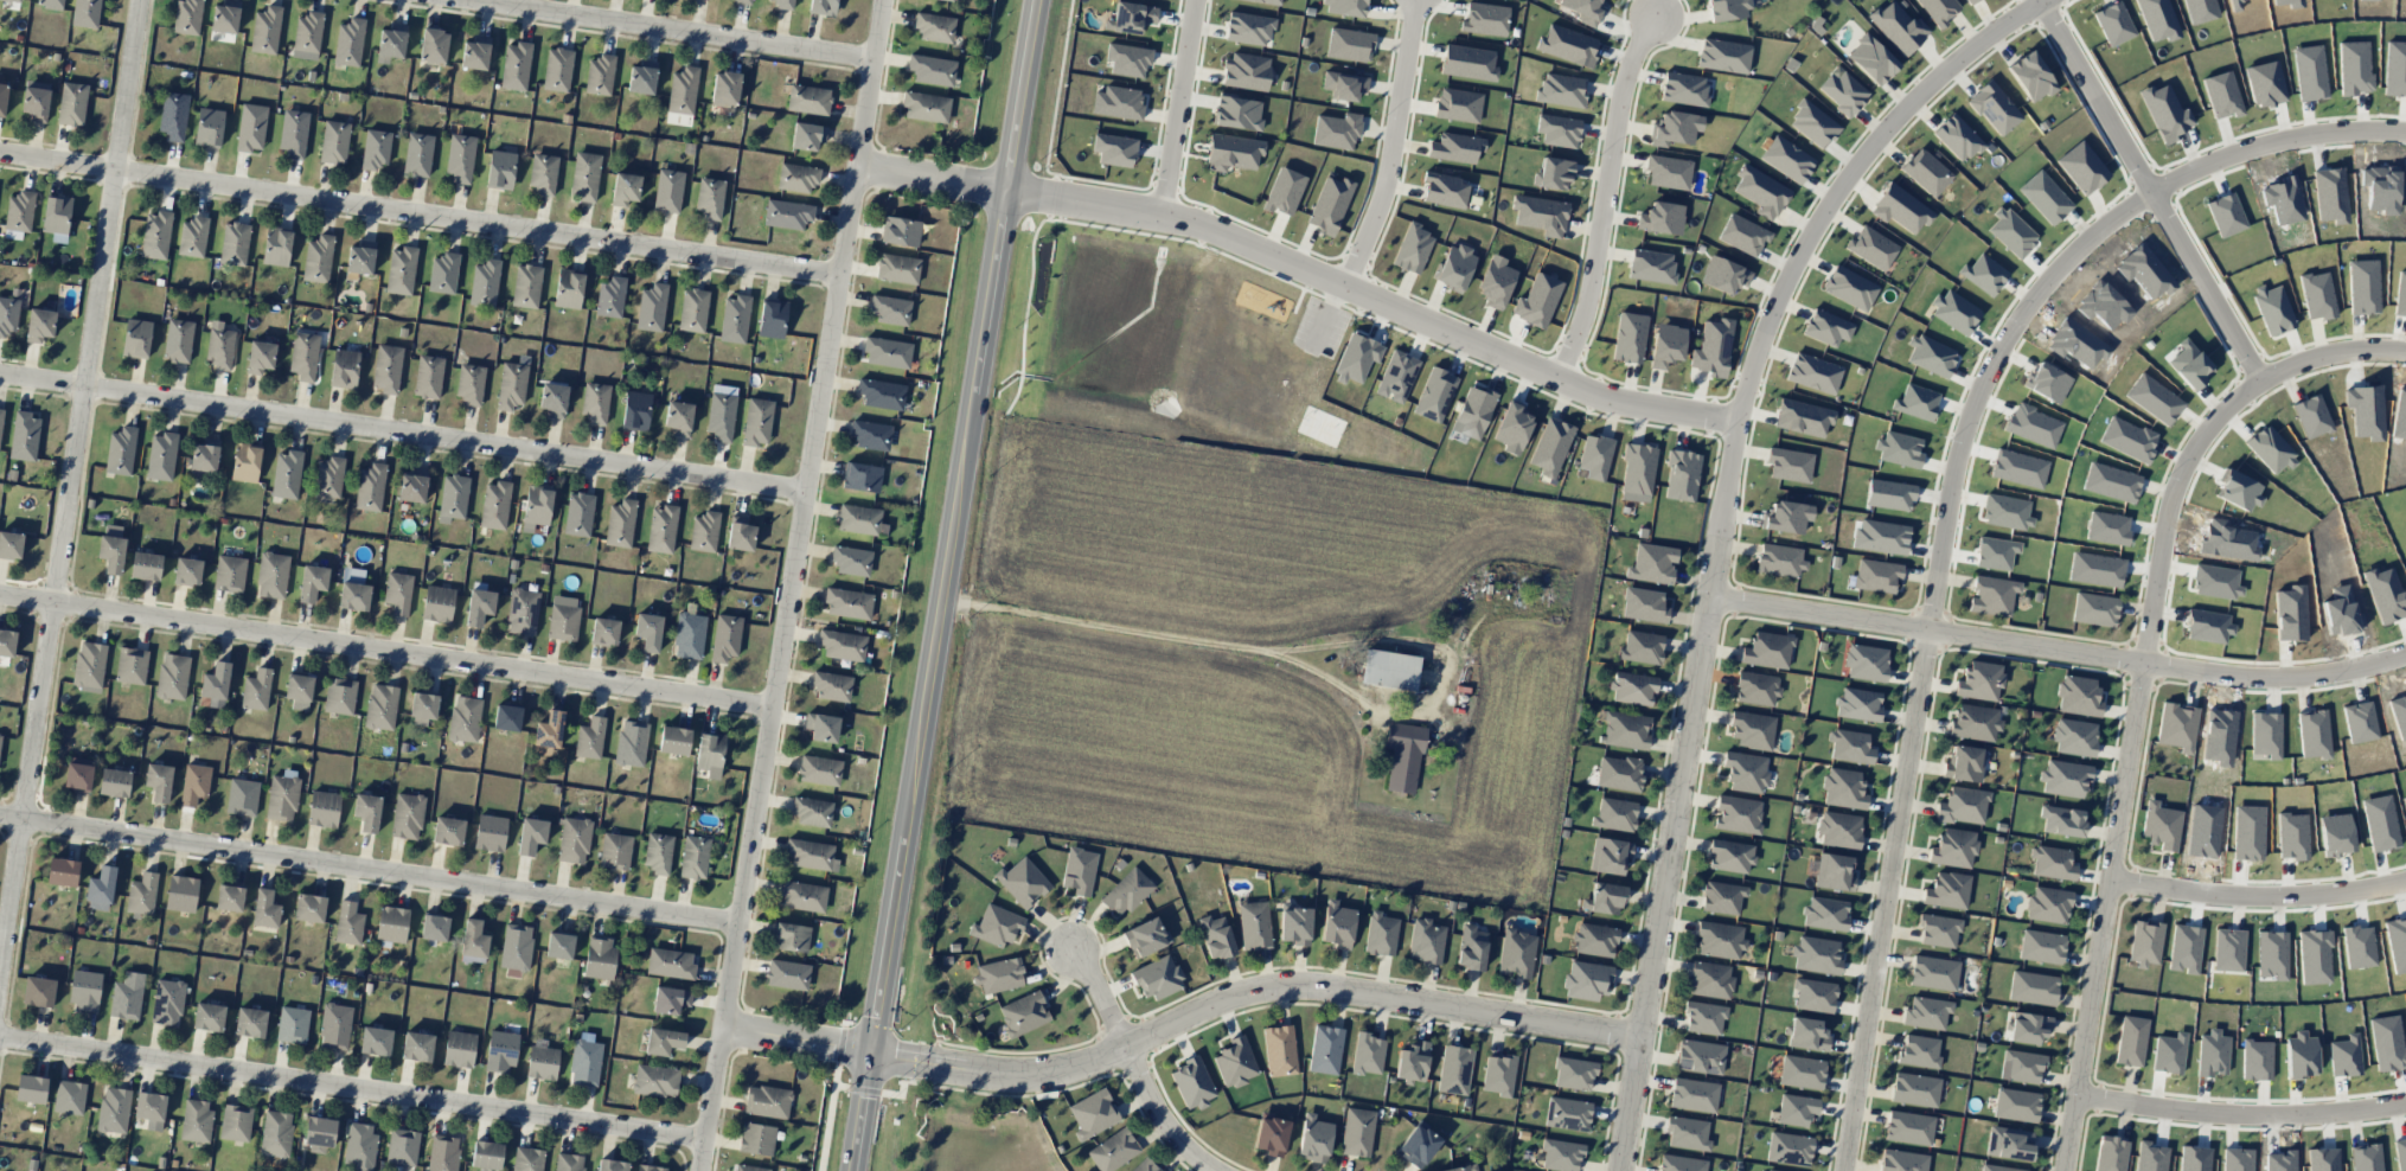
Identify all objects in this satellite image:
building: (13, 0)
building: (948, 0)
building: (743, 1)
building: (1267, 1)
building: (1970, 1)
building: (50, 4)
building: (783, 4)
building: (823, 7)
building: (1344, 7)
building: (1583, 9)
building: (1726, 9)
building: (1939, 9)
building: (85, 13)
building: (187, 17)
building: (225, 17)
building: (1130, 18)
building: (1484, 19)
building: (934, 27)
building: (1898, 27)
building: (1248, 28)
building: (265, 30)
road: (668, 30)
building: (307, 32)
building: (348, 41)
building: (391, 43)
building: (1349, 44)
building: (1567, 45)
building: (433, 46)
building: (475, 53)
building: (1723, 56)
building: (1127, 59)
building: (1870, 59)
building: (1467, 63)
building: (516, 65)
building: (557, 69)
building: (932, 70)
building: (1246, 71)
building: (600, 75)
building: (2030, 76)
building: (642, 77)
building: (1344, 84)
building: (724, 88)
building: (1683, 89)
building: (1561, 90)
building: (682, 92)
building: (1843, 92)
building: (2, 98)
building: (807, 100)
building: (36, 101)
building: (1118, 102)
building: (71, 104)
building: (1458, 104)
road: (1177, 105)
building: (924, 107)
building: (1994, 108)
building: (1237, 111)
building: (173, 115)
building: (1813, 123)
building: (209, 127)
building: (251, 127)
building: (1675, 128)
building: (1336, 130)
building: (1557, 130)
building: (293, 133)
building: (806, 135)
building: (1957, 137)
building: (334, 142)
road: (1391, 145)
building: (1455, 147)
building: (375, 148)
building: (1114, 149)
building: (1233, 152)
building: (417, 154)
building: (460, 158)
building: (1786, 159)
building: (500, 169)
building: (1668, 172)
building: (1925, 172)
building: (1553, 173)
building: (543, 174)
road: (932, 174)
building: (584, 175)
building: (796, 177)
building: (625, 188)
building: (1444, 190)
building: (667, 191)
building: (1284, 191)
building: (1760, 191)
road: (2156, 191)
road: (1602, 194)
building: (710, 198)
building: (1330, 205)
building: (1900, 209)
building: (56, 213)
building: (787, 213)
building: (19, 215)
building: (1540, 215)
road: (421, 217)
building: (1660, 218)
building: (900, 231)
building: (155, 235)
building: (1742, 235)
building: (192, 237)
building: (233, 243)
building: (276, 247)
building: (1871, 248)
building: (1413, 249)
building: (318, 260)
building: (1651, 265)
building: (897, 268)
building: (1454, 268)
building: (401, 270)
building: (443, 273)
building: (1723, 275)
building: (1495, 282)
building: (484, 283)
building: (526, 286)
building: (568, 288)
building: (1849, 288)
road: (1372, 294)
building: (610, 297)
building: (1537, 300)
building: (651, 307)
building: (692, 309)
building: (890, 309)
building: (8, 315)
building: (772, 318)
building: (734, 319)
building: (39, 325)
building: (1826, 327)
building: (136, 338)
building: (1628, 338)
building: (178, 340)
building: (219, 345)
building: (1666, 345)
building: (1713, 348)
building: (887, 352)
building: (303, 356)
building: (260, 357)
building: (1357, 358)
building: (344, 369)
building: (386, 369)
building: (1813, 373)
building: (1397, 375)
building: (428, 377)
building: (471, 384)
building: (511, 385)
building: (881, 393)
building: (1434, 395)
building: (552, 399)
building: (595, 402)
building: (635, 410)
building: (721, 412)
building: (1473, 412)
building: (678, 417)
building: (1802, 417)
building: (1, 418)
building: (757, 421)
building: (1511, 428)
building: (870, 435)
building: (24, 436)
road: (403, 436)
building: (1550, 447)
building: (120, 450)
building: (205, 455)
building: (161, 456)
building: (1594, 456)
building: (245, 462)
building: (1788, 465)
building: (1637, 468)
building: (286, 474)
building: (1682, 475)
building: (862, 476)
building: (328, 478)
building: (414, 486)
building: (370, 487)
building: (453, 498)
road: (69, 503)
building: (494, 505)
building: (537, 505)
building: (578, 514)
building: (1786, 517)
road: (1947, 517)
building: (858, 519)
building: (620, 523)
road: (1720, 527)
building: (661, 529)
building: (704, 531)
building: (740, 533)
building: (11, 545)
building: (111, 549)
building: (1779, 559)
building: (851, 561)
building: (1652, 563)
building: (146, 565)
building: (187, 571)
building: (229, 574)
building: (271, 575)
building: (1876, 575)
building: (312, 582)
road: (941, 584)
road: (794, 585)
building: (398, 593)
building: (1991, 595)
building: (353, 596)
building: (437, 603)
building: (847, 603)
building: (1643, 604)
building: (479, 606)
building: (2094, 609)
building: (521, 612)
building: (563, 619)
building: (648, 631)
building: (603, 632)
building: (689, 635)
building: (725, 638)
road: (1152, 639)
building: (7, 642)
building: (842, 645)
building: (1642, 647)
building: (1767, 650)
road: (2058, 651)
road: (386, 653)
building: (1866, 663)
building: (130, 665)
building: (89, 666)
building: (1390, 670)
building: (172, 676)
building: (1979, 680)
building: (215, 685)
building: (297, 686)
building: (831, 686)
building: (1632, 687)
building: (1755, 687)
road: (2146, 689)
building: (256, 690)
building: (339, 696)
building: (2078, 696)
building: (1857, 704)
building: (380, 706)
building: (422, 708)
building: (506, 717)
building: (463, 718)
building: (1975, 722)
building: (821, 727)
building: (2176, 727)
building: (1624, 729)
building: (1751, 729)
building: (548, 732)
building: (0, 734)
building: (2074, 736)
building: (589, 738)
building: (673, 740)
building: (631, 743)
building: (1849, 746)
building: (709, 754)
building: (1403, 756)
building: (1963, 763)
building: (819, 770)
building: (1745, 772)
building: (1618, 773)
building: (78, 774)
building: (2063, 779)
building: (159, 781)
building: (114, 782)
building: (194, 783)
building: (1843, 788)
building: (282, 795)
building: (242, 796)
building: (1962, 806)
building: (324, 808)
building: (812, 811)
building: (366, 812)
building: (1614, 814)
building: (1736, 814)
building: (407, 815)
building: (2061, 820)
building: (2159, 825)
building: (1839, 830)
building: (448, 831)
building: (489, 833)
building: (531, 834)
building: (574, 840)
building: (1953, 847)
building: (614, 851)
building: (658, 853)
building: (811, 855)
building: (1610, 856)
building: (1730, 856)
building: (693, 857)
building: (2052, 863)
building: (1079, 870)
building: (1835, 871)
building: (62, 872)
road: (370, 872)
building: (1022, 882)
building: (101, 889)
building: (1946, 890)
building: (1126, 891)
building: (141, 894)
building: (181, 894)
building: (802, 896)
road: (2261, 896)
building: (229, 897)
building: (1721, 897)
building: (1605, 898)
building: (2048, 906)
building: (309, 908)
building: (264, 909)
building: (1824, 914)
building: (348, 923)
building: (1254, 924)
building: (1294, 924)
building: (1337, 924)
building: (391, 926)
building: (996, 926)
building: (434, 928)
building: (1938, 930)
building: (1380, 934)
building: (1145, 936)
building: (1215, 936)
building: (791, 938)
building: (1594, 939)
building: (1720, 940)
building: (1425, 941)
building: (473, 942)
building: (2144, 942)
building: (559, 945)
building: (2041, 946)
building: (516, 947)
building: (1470, 947)
building: (1516, 953)
building: (1816, 954)
building: (599, 958)
building: (670, 964)
building: (1933, 973)
building: (787, 974)
building: (998, 975)
building: (1157, 978)
building: (1586, 980)
building: (1710, 980)
building: (2031, 987)
building: (84, 991)
building: (38, 992)
building: (1813, 994)
building: (127, 996)
road: (1099, 997)
building: (668, 999)
building: (167, 1002)
building: (1926, 1012)
building: (1023, 1013)
building: (209, 1017)
building: (1703, 1017)
road: (1182, 1020)
building: (250, 1022)
building: (293, 1024)
building: (334, 1026)
building: (2028, 1028)
building: (1806, 1035)
building: (375, 1041)
building: (663, 1041)
building: (2130, 1041)
building: (416, 1047)
building: (459, 1049)
building: (1325, 1049)
building: (1279, 1050)
building: (500, 1051)
building: (1918, 1051)
building: (1368, 1054)
building: (1700, 1056)
building: (584, 1060)
building: (542, 1062)
building: (1235, 1062)
building: (1413, 1062)
building: (2022, 1067)
building: (1454, 1069)
building: (1800, 1071)
building: (1574, 1073)
building: (1498, 1074)
building: (654, 1080)
building: (1192, 1083)
building: (31, 1088)
building: (1914, 1089)
road: (353, 1090)
building: (1694, 1094)
building: (69, 1096)
building: (767, 1101)
building: (2016, 1105)
building: (149, 1106)
building: (114, 1109)
building: (1796, 1109)
building: (1093, 1113)
building: (1567, 1113)
road: (1160, 1114)
road: (2245, 1114)
building: (196, 1120)
building: (236, 1122)
building: (1908, 1127)
building: (1357, 1132)
building: (276, 1133)
building: (1687, 1133)
building: (319, 1134)
building: (1271, 1134)
building: (756, 1138)
building: (1313, 1139)
building: (2008, 1143)
building: (1418, 1145)
building: (359, 1146)
building: (402, 1147)
building: (1788, 1148)
building: (1113, 1151)
building: (443, 1153)
building: (486, 1154)
building: (2110, 1154)
building: (1561, 1156)
building: (527, 1159)
building: (1902, 1160)
building: (569, 1162)
building: (1681, 1164)
building: (612, 1165)
building: (1145, 1165)
building: (650, 1167)
building: (748, 1167)
building: (1461, 1167)
building: (1999, 1169)
building: (1768, 1170)

